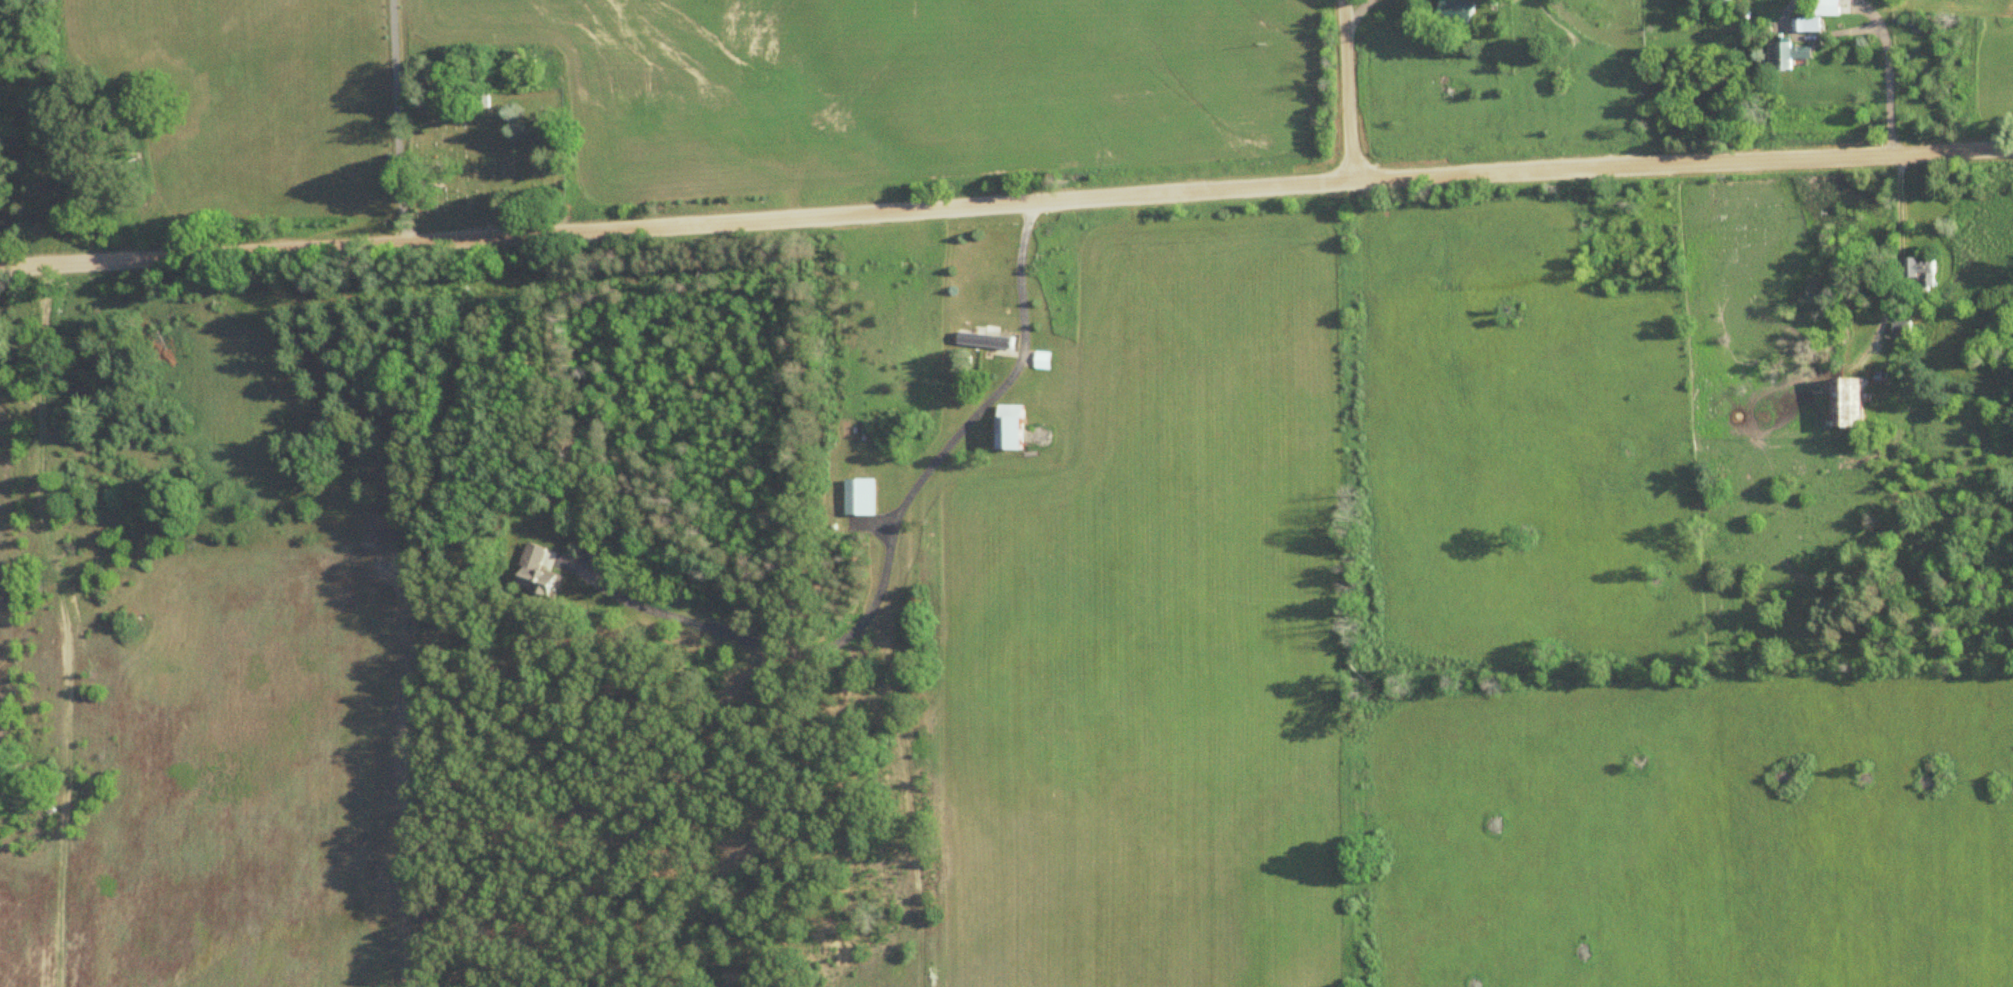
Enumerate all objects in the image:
crop: (2012, 4)
building: (1832, 7)
building: (1459, 10)
building: (1809, 24)
building: (1792, 55)
crop: (899, 86)
road: (1351, 91)
road: (1006, 204)
building: (1924, 272)
building: (1902, 328)
building: (990, 338)
building: (1853, 403)
building: (1016, 428)
building: (861, 497)
building: (536, 570)
crop: (1694, 836)

